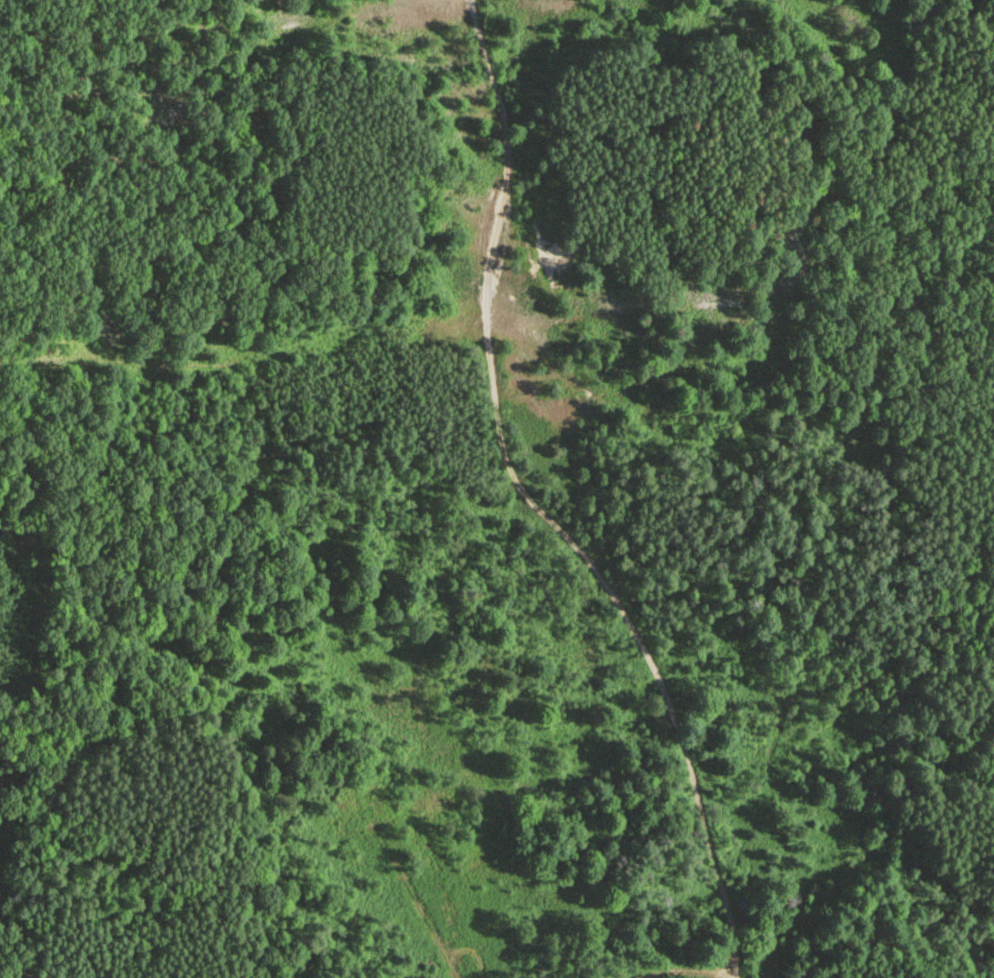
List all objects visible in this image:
road: (870, 188)
road: (569, 348)
road: (539, 502)

